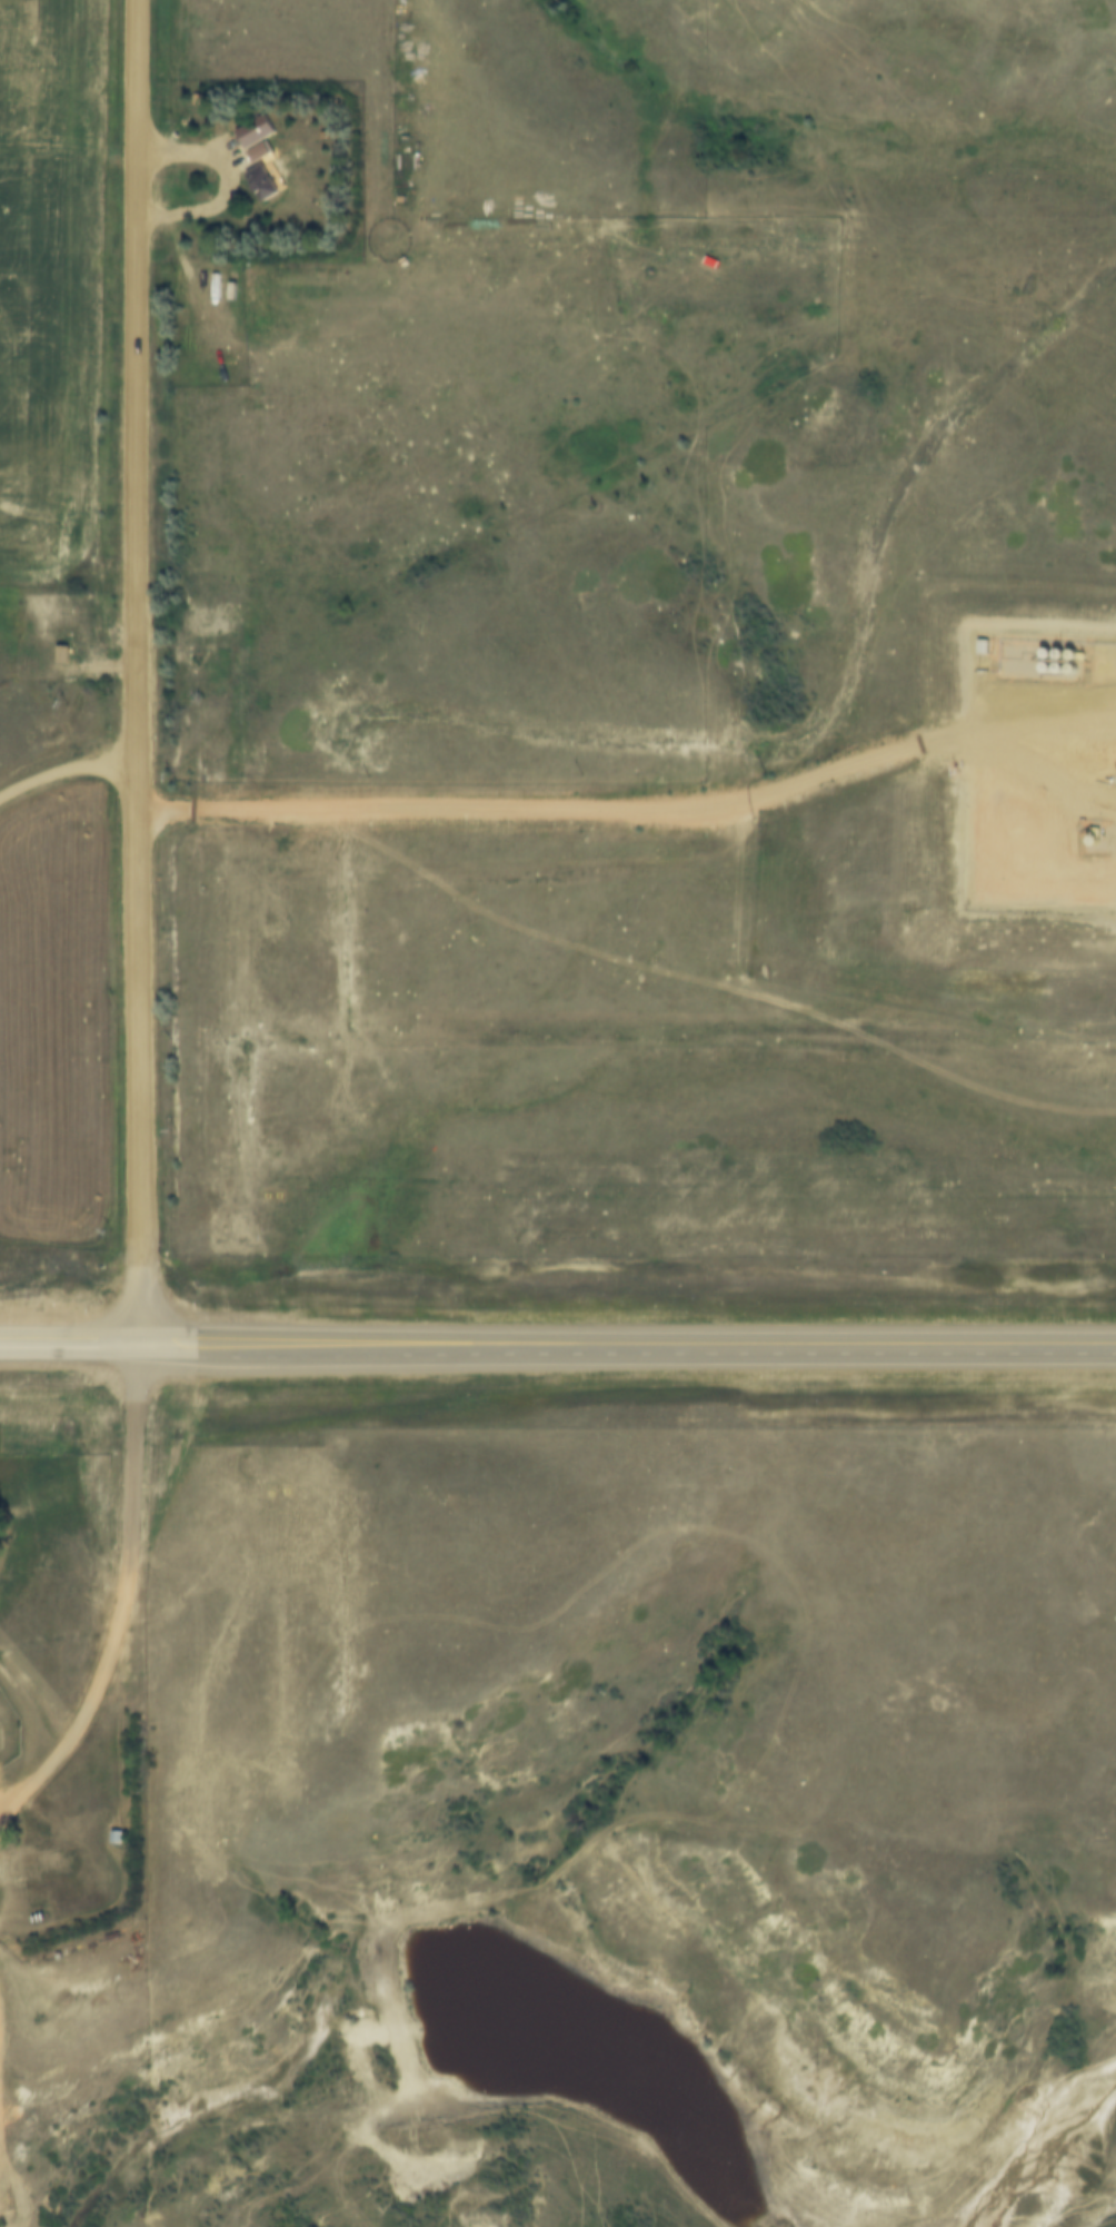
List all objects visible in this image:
building: (259, 136)
building: (266, 181)
road: (228, 187)
road: (138, 673)
road: (67, 772)
road: (535, 812)
road: (627, 1346)
road: (70, 1347)
road: (127, 1601)
building: (30, 1861)

